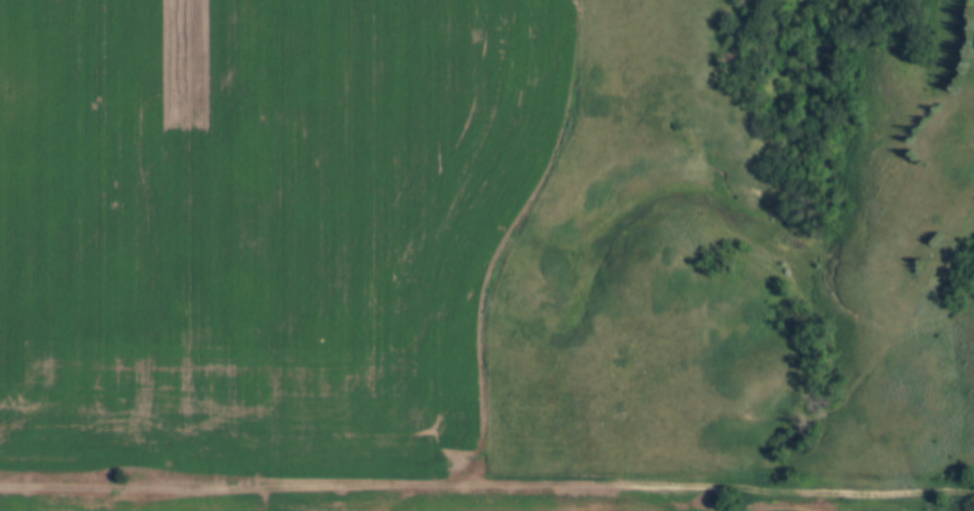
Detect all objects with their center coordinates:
road: (487, 475)

